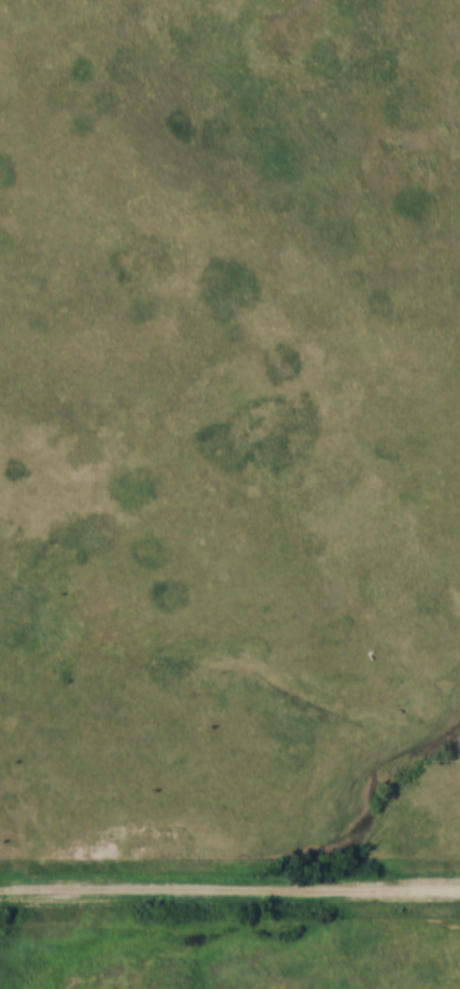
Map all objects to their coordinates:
road: (229, 894)

